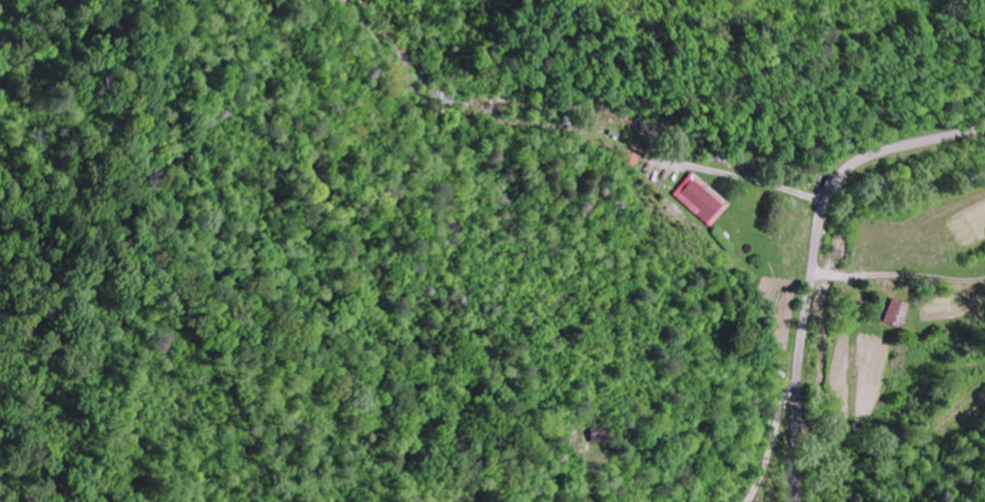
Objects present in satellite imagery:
road: (909, 141)
road: (835, 183)
river: (919, 186)
building: (702, 199)
road: (821, 217)
road: (770, 270)
building: (898, 312)
road: (802, 372)
road: (721, 375)

